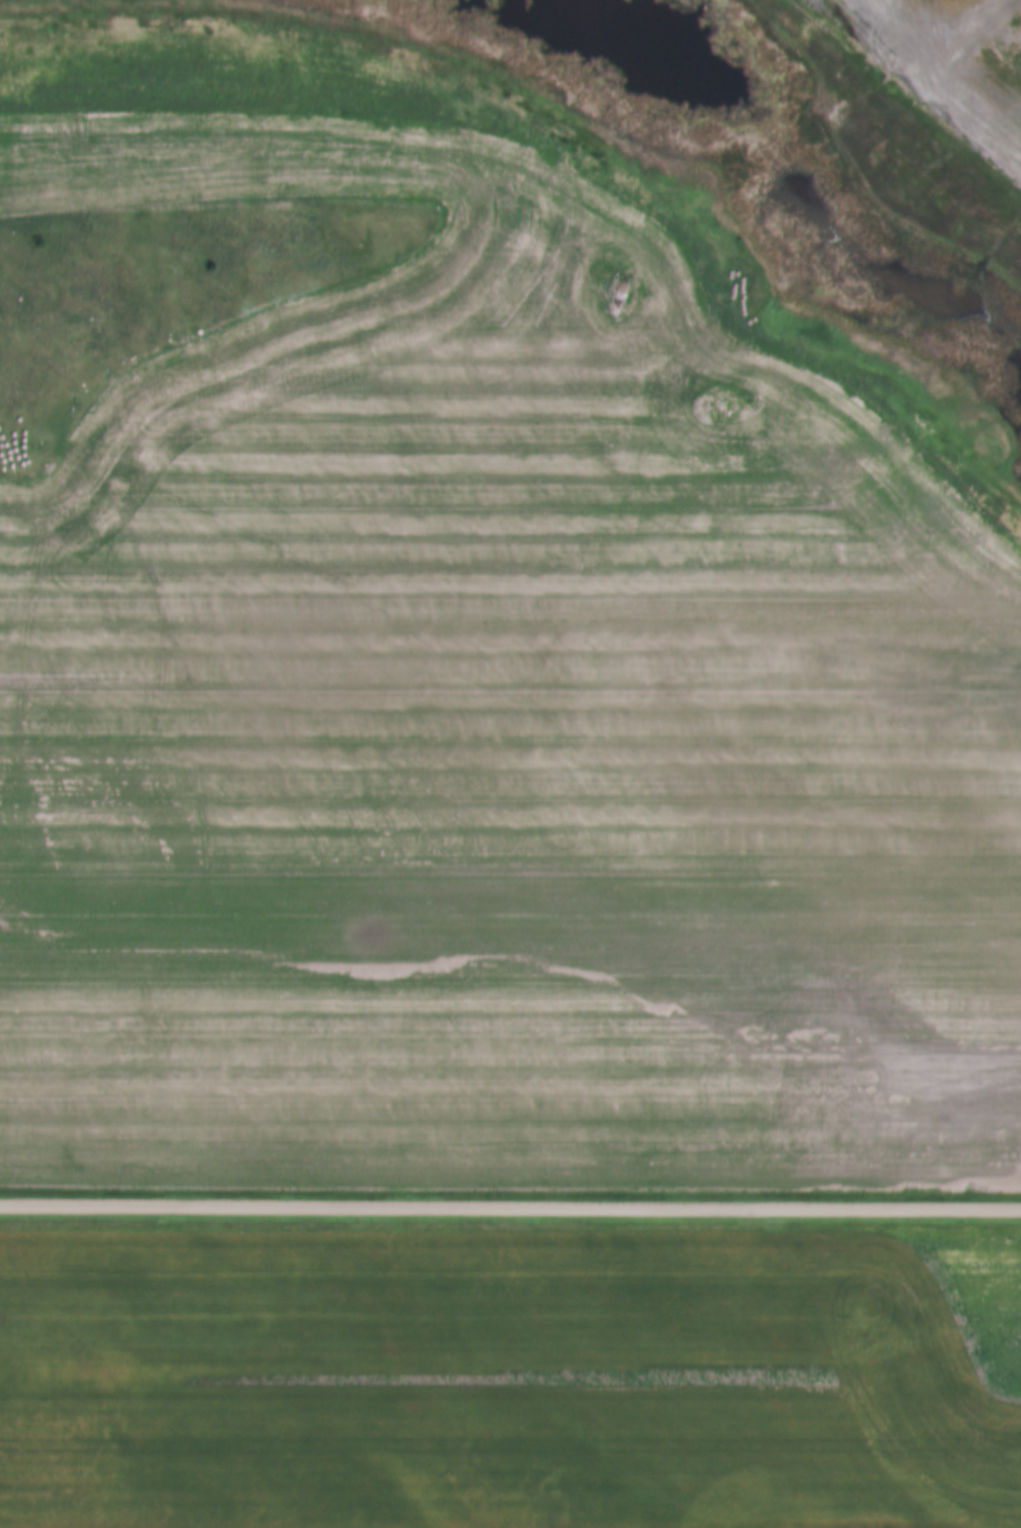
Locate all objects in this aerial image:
road: (510, 1208)

